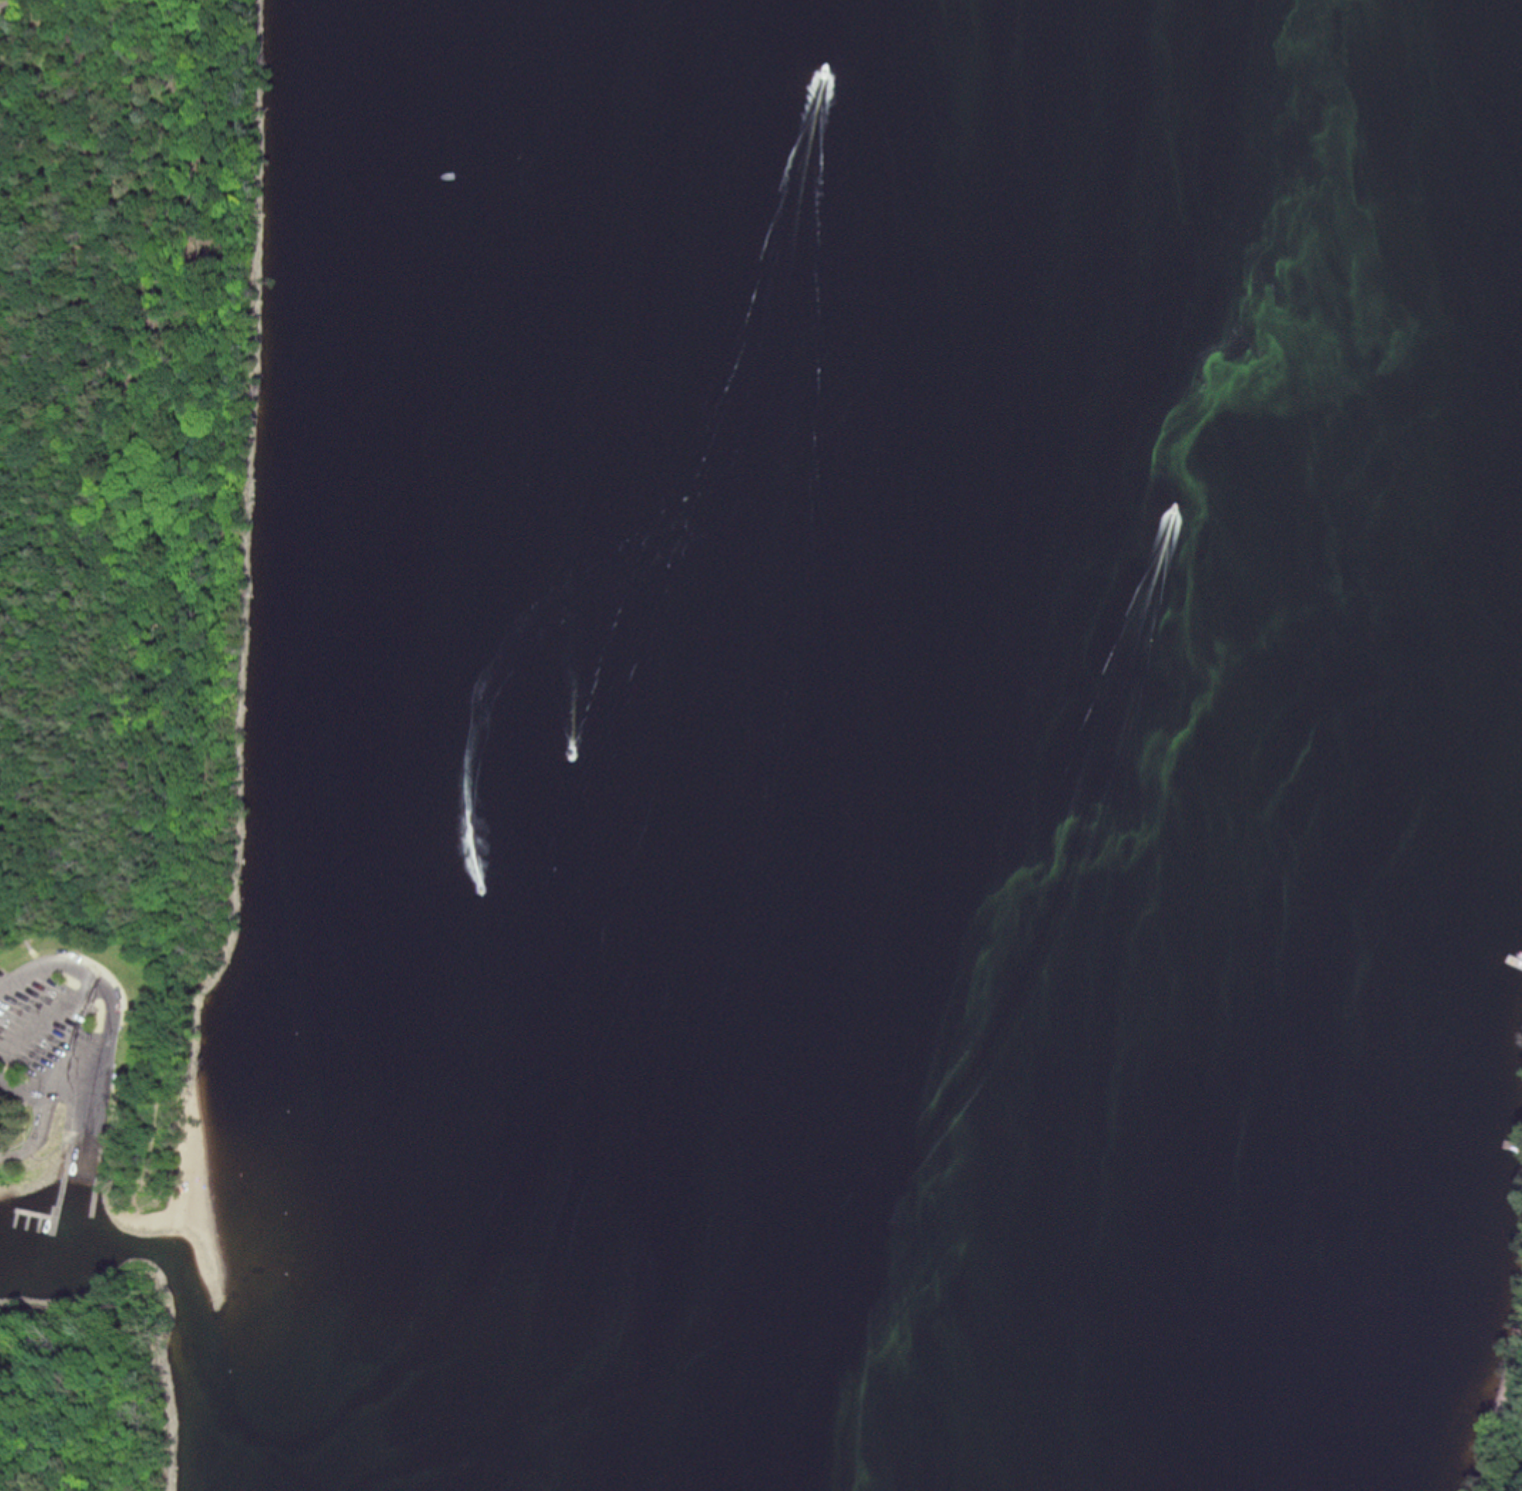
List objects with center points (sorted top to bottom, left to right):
road: (5, 2)
park: (122, 673)
river: (1011, 746)
road: (106, 988)

